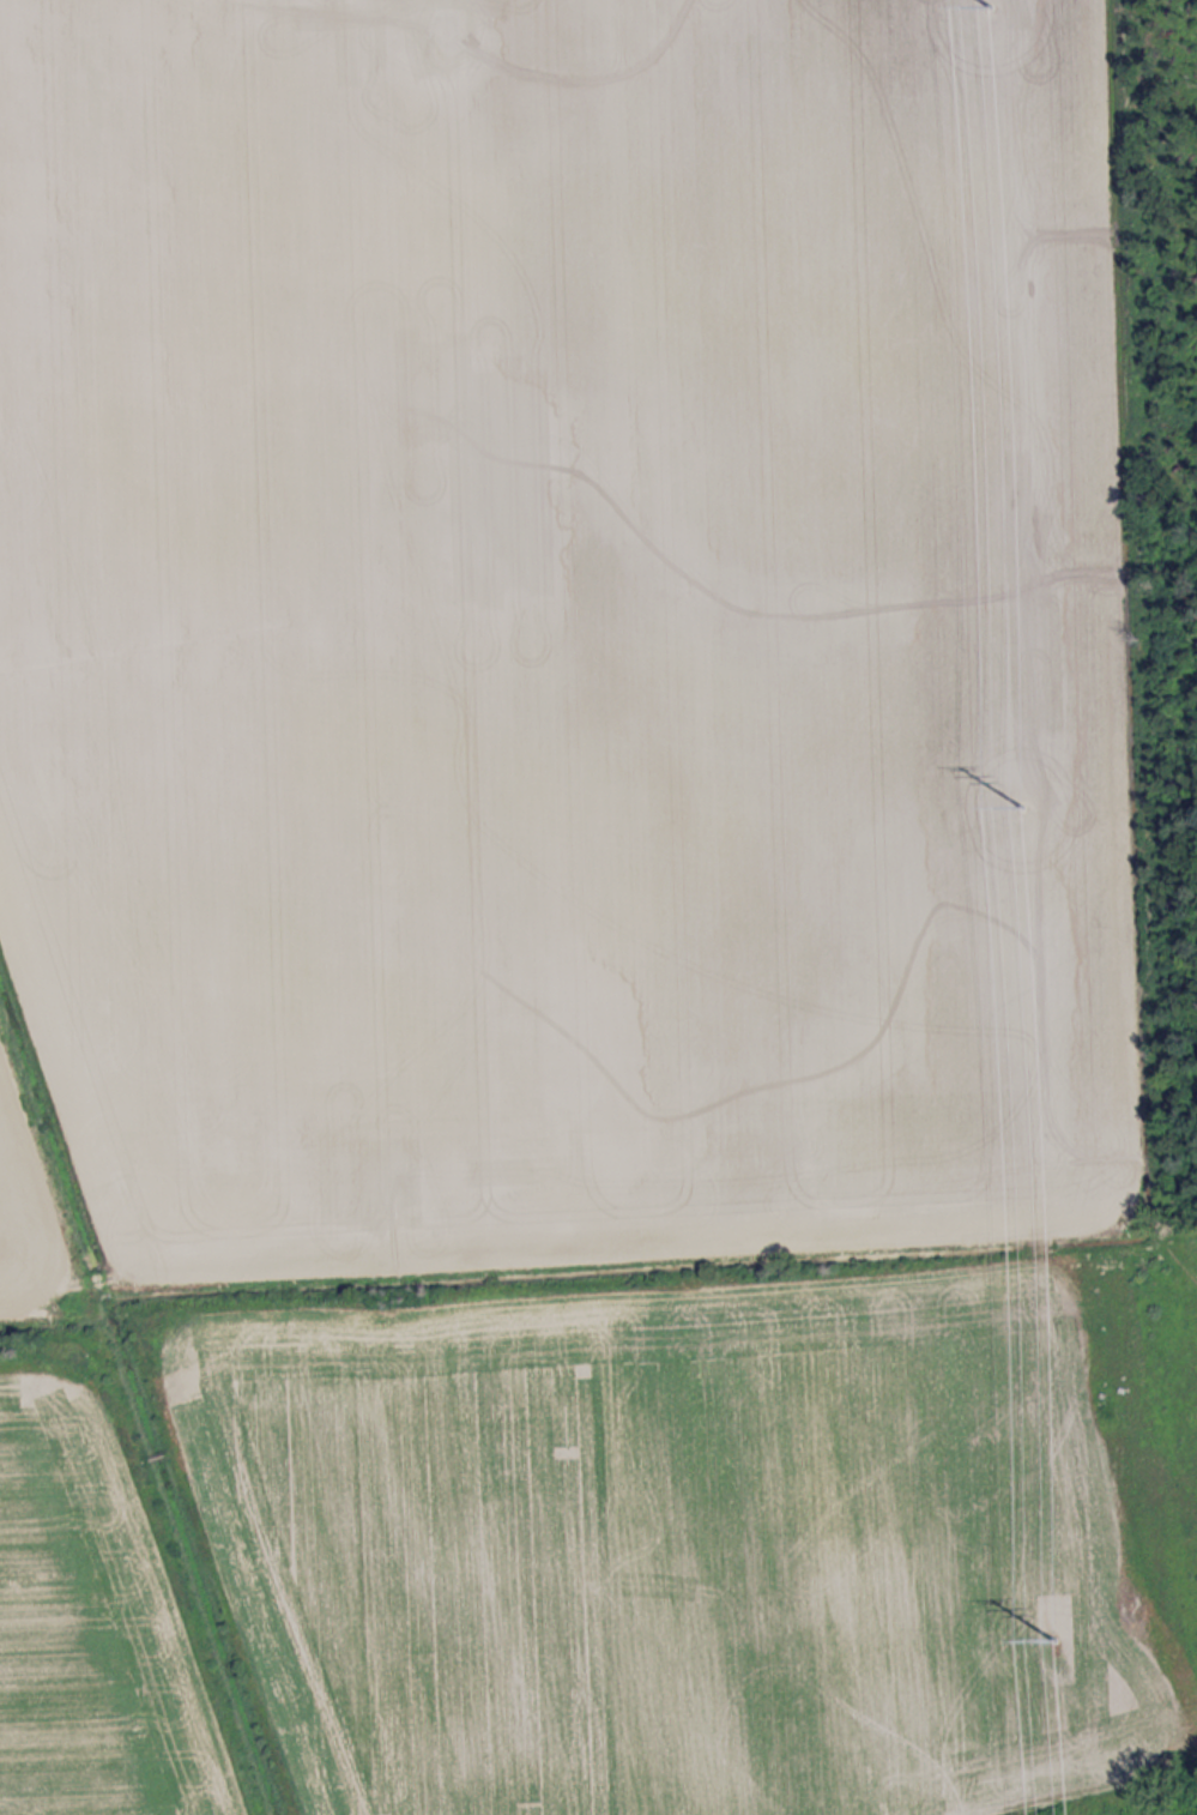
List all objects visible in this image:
power tower: (1020, 798)
power tower: (1046, 1633)

